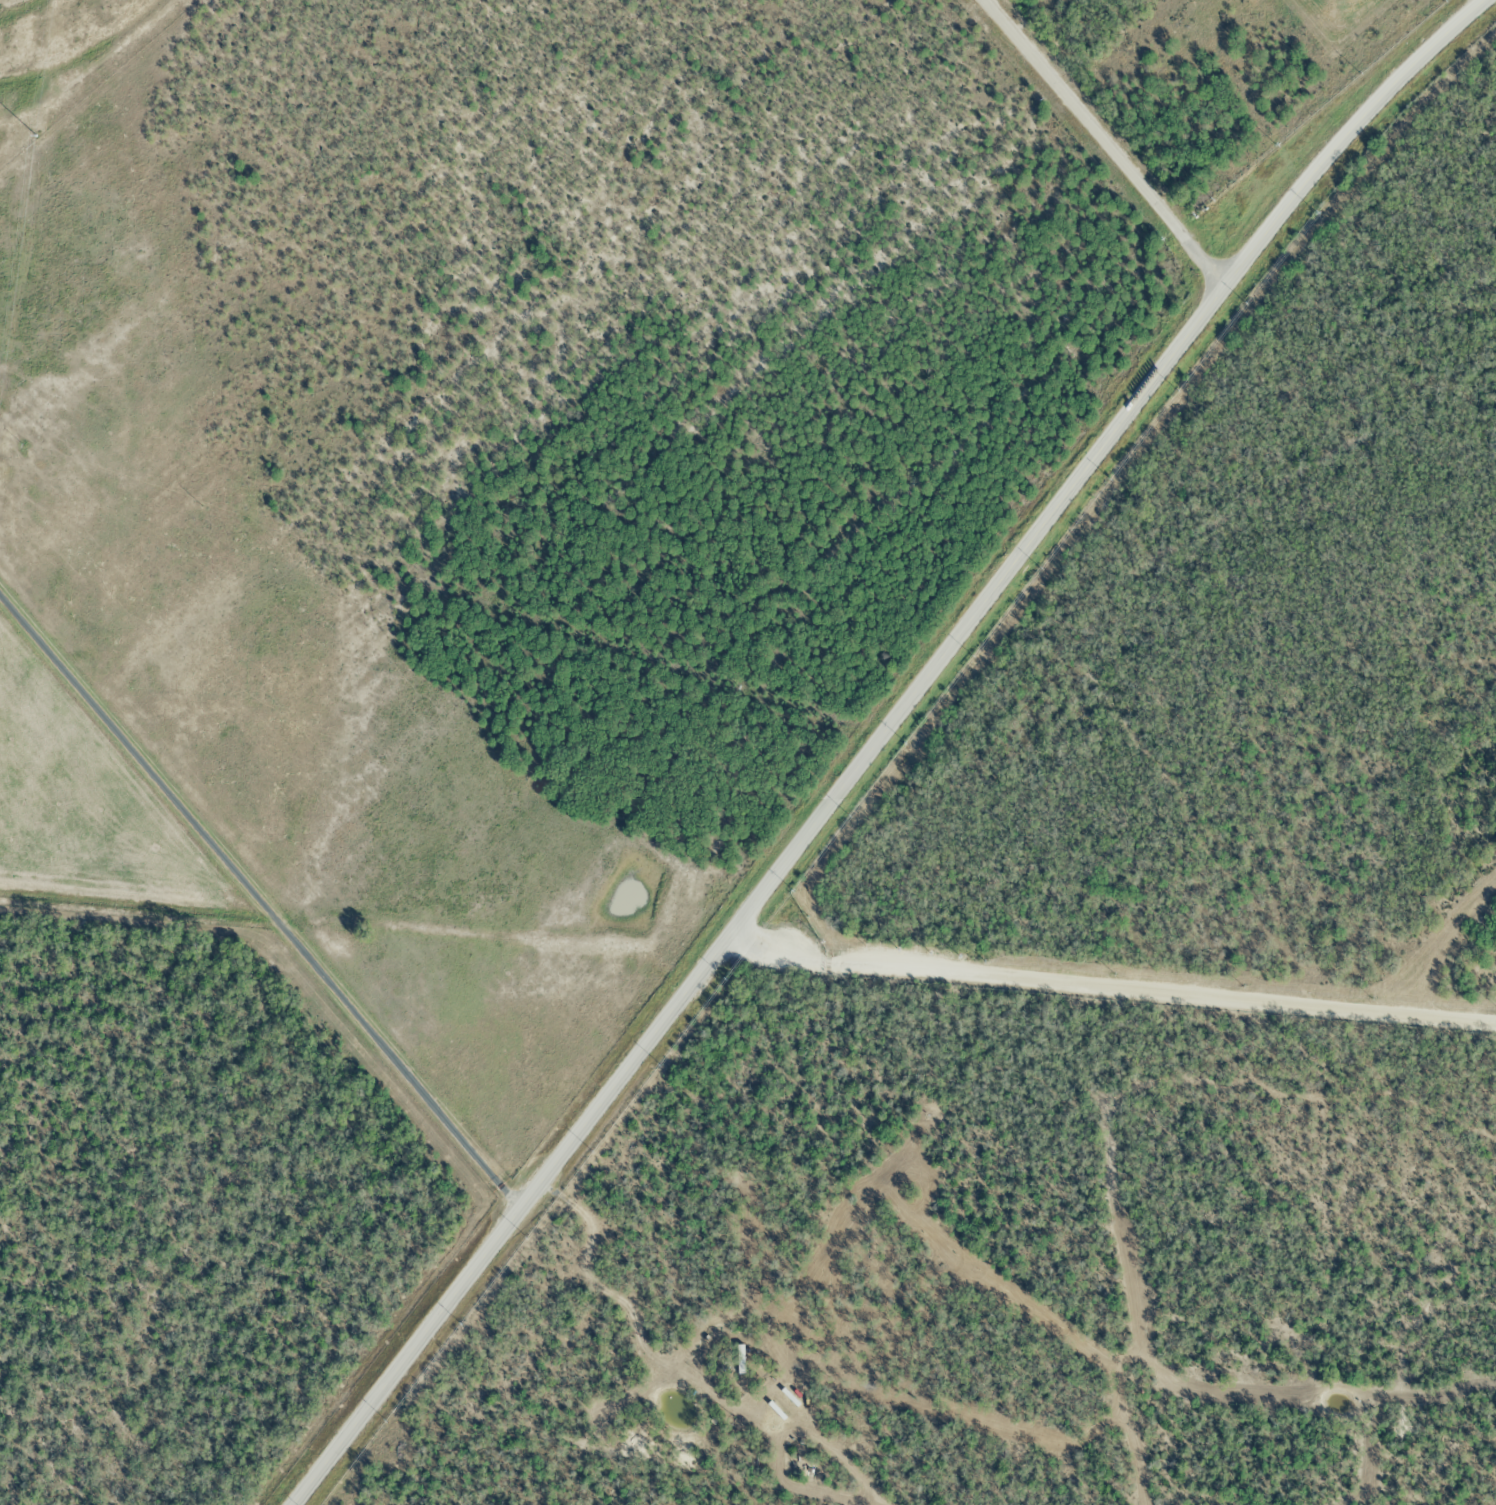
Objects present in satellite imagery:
power tower: (34, 131)
road: (1106, 147)
road: (876, 742)
road: (259, 901)
road: (1111, 987)

